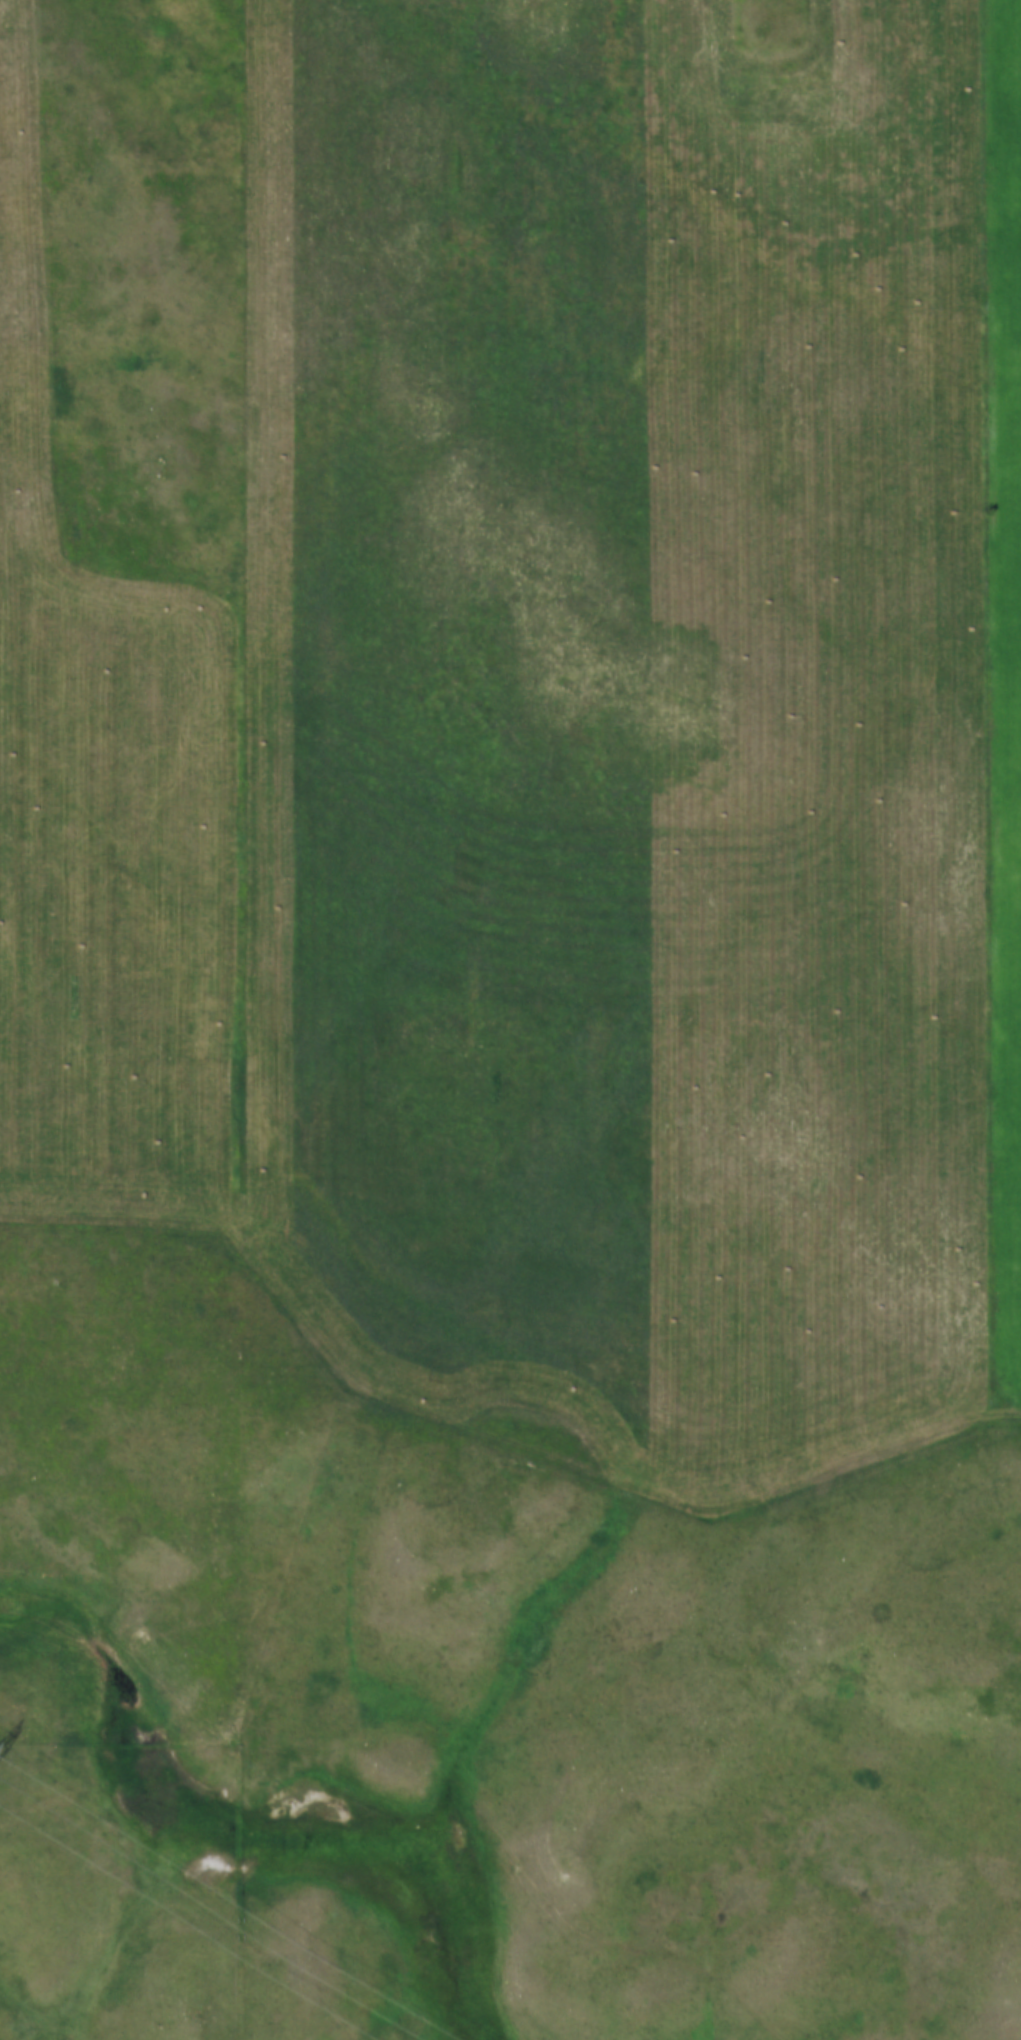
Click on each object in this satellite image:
building: (787, 549)
road: (571, 1465)

